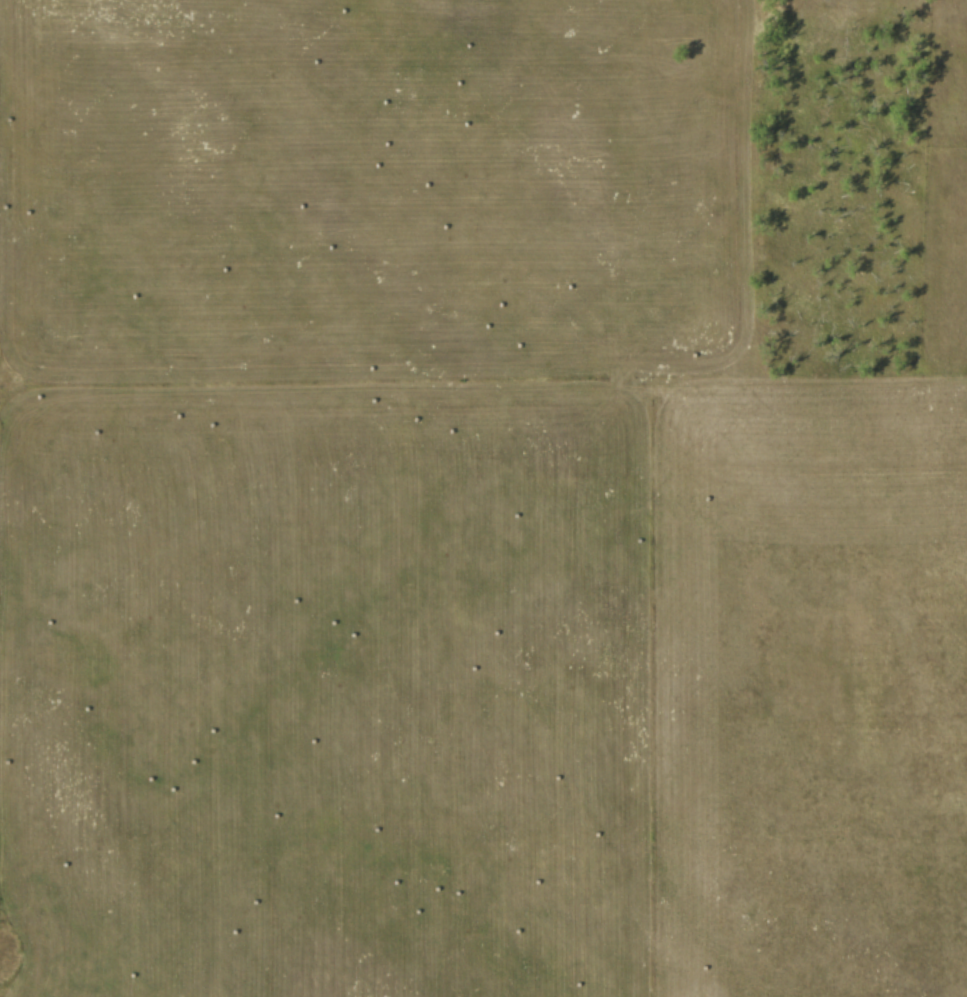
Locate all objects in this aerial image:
building: (915, 803)

